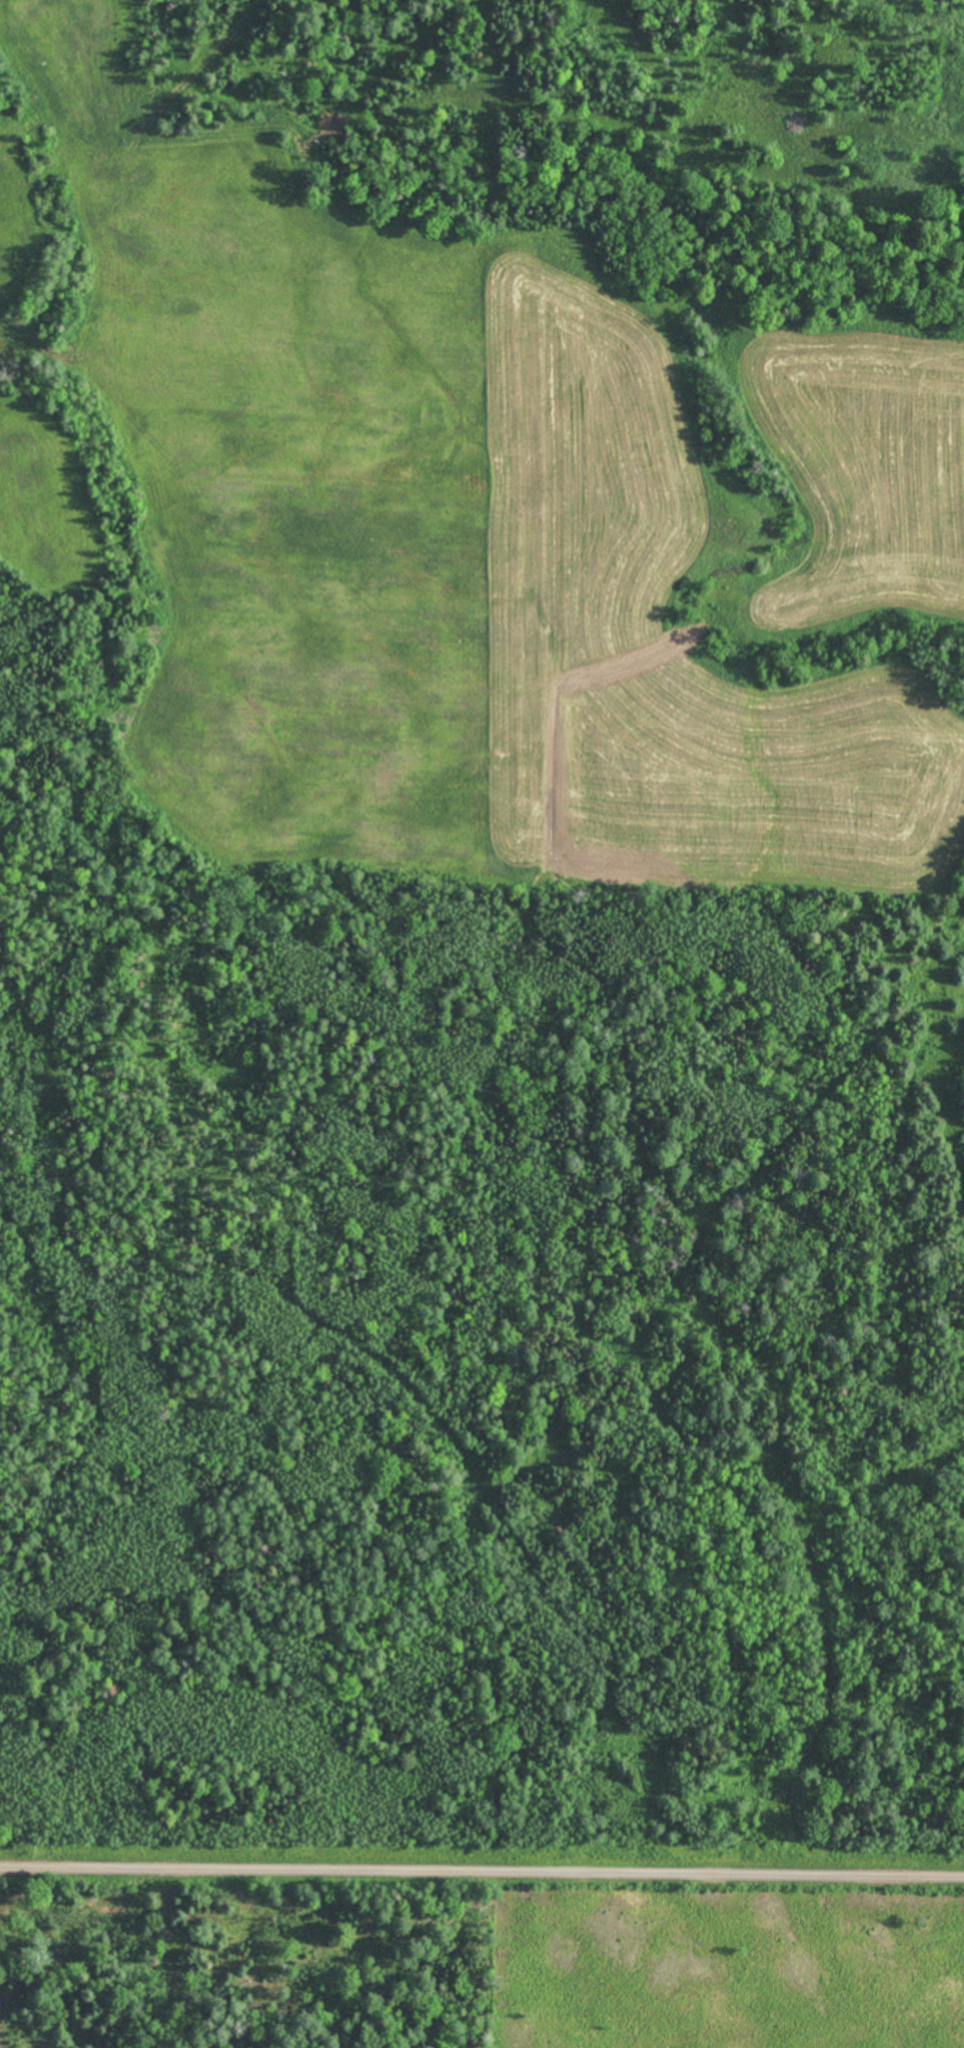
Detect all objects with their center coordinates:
crop: (464, 507)
road: (482, 1868)

